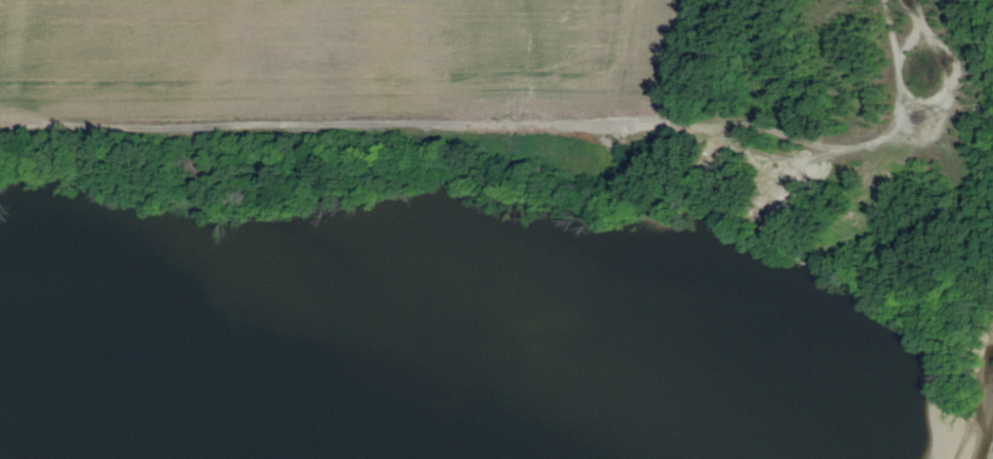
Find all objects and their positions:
road: (518, 123)

